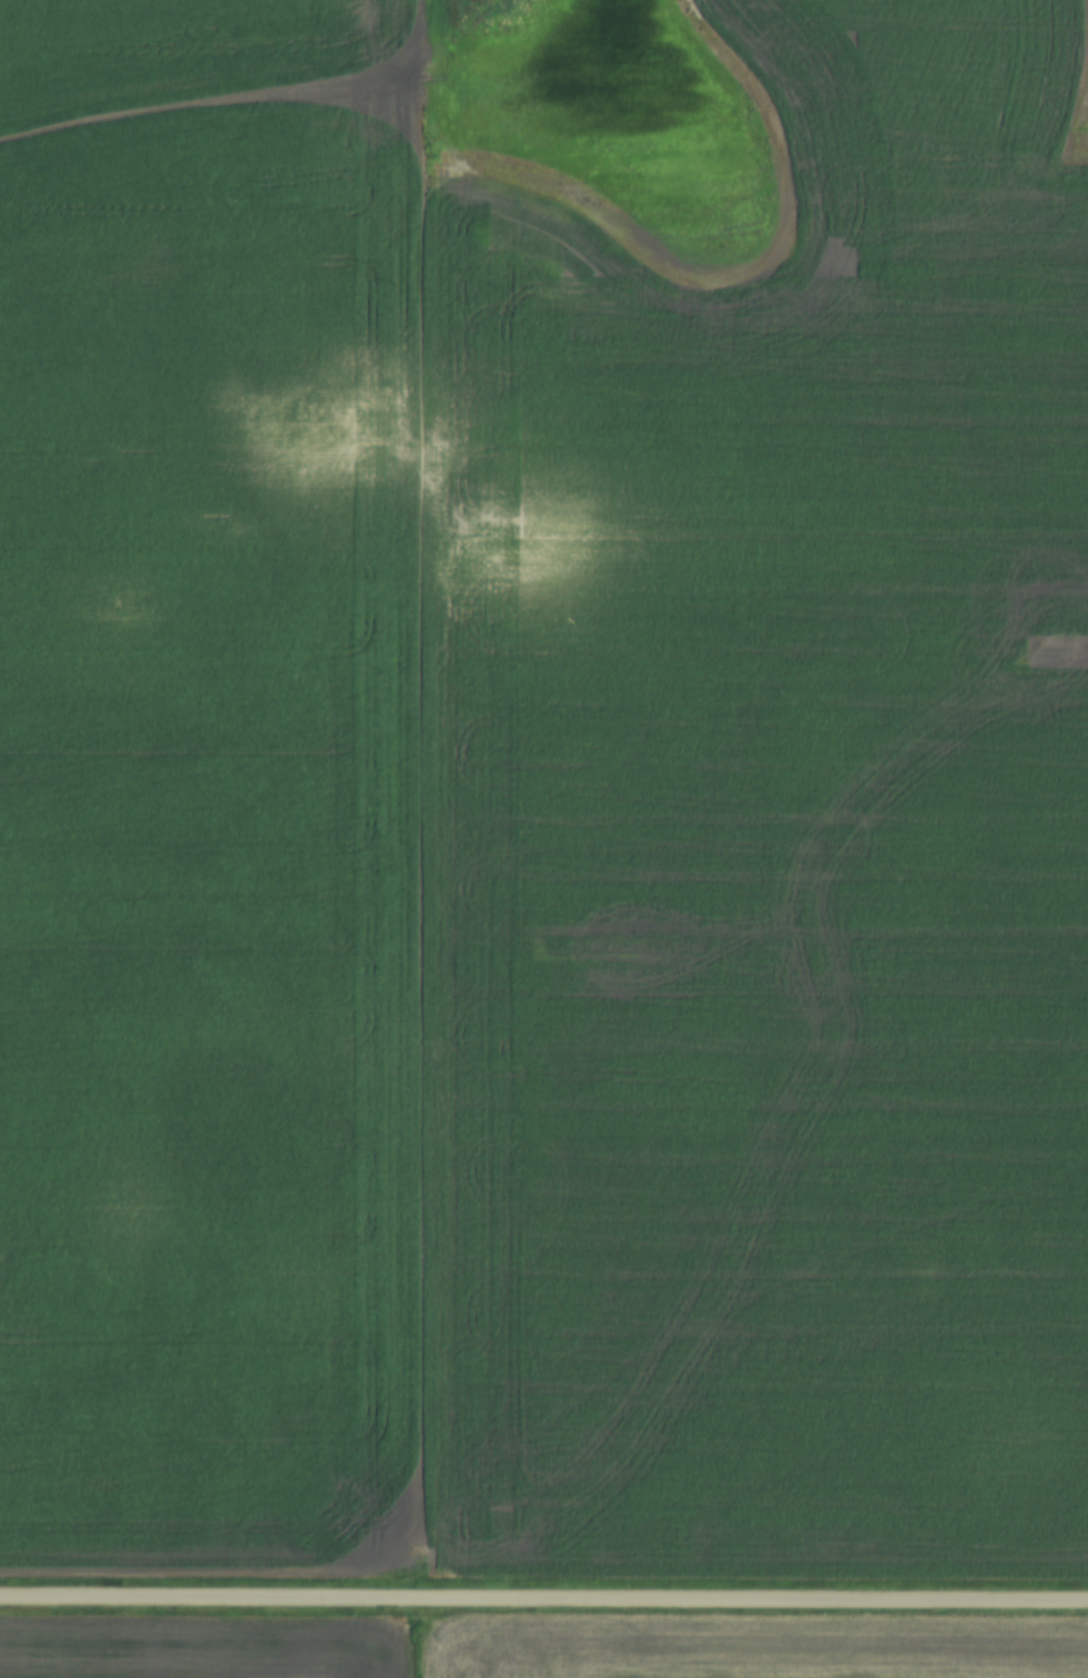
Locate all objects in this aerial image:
road: (543, 1605)

